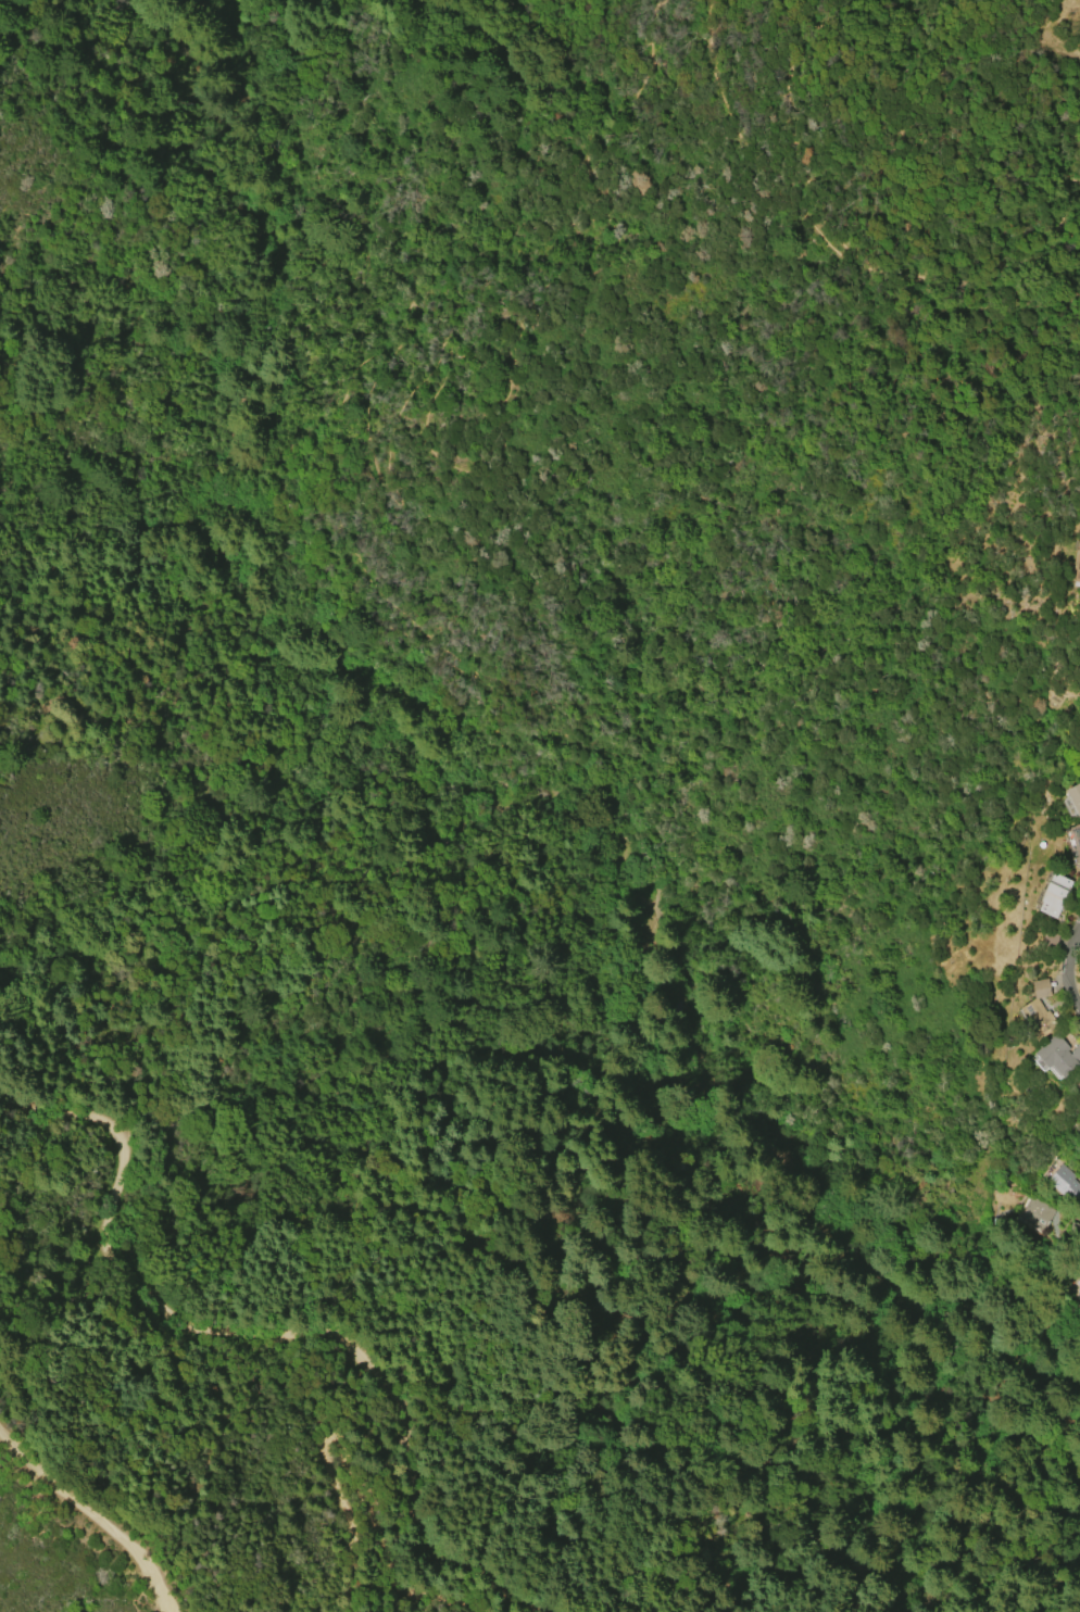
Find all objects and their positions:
road: (669, 1)
road: (768, 136)
road: (830, 222)
road: (536, 295)
road: (228, 367)
road: (364, 395)
road: (397, 416)
road: (328, 468)
road: (271, 539)
building: (1077, 564)
road: (341, 589)
road: (450, 653)
road: (340, 683)
building: (1073, 797)
building: (1076, 838)
building: (1053, 894)
road: (594, 916)
road: (1066, 969)
building: (1038, 1011)
building: (1058, 1055)
building: (1078, 1084)
building: (1065, 1184)
road: (780, 1208)
building: (1037, 1213)
road: (926, 1322)
road: (282, 1332)
road: (356, 1471)
road: (92, 1517)

